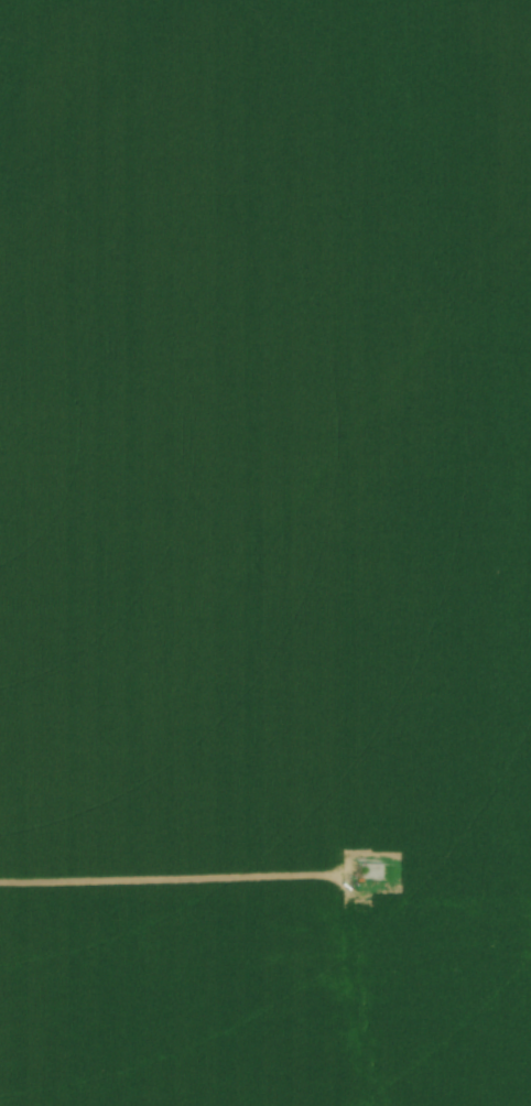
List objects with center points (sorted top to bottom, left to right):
building: (370, 871)

